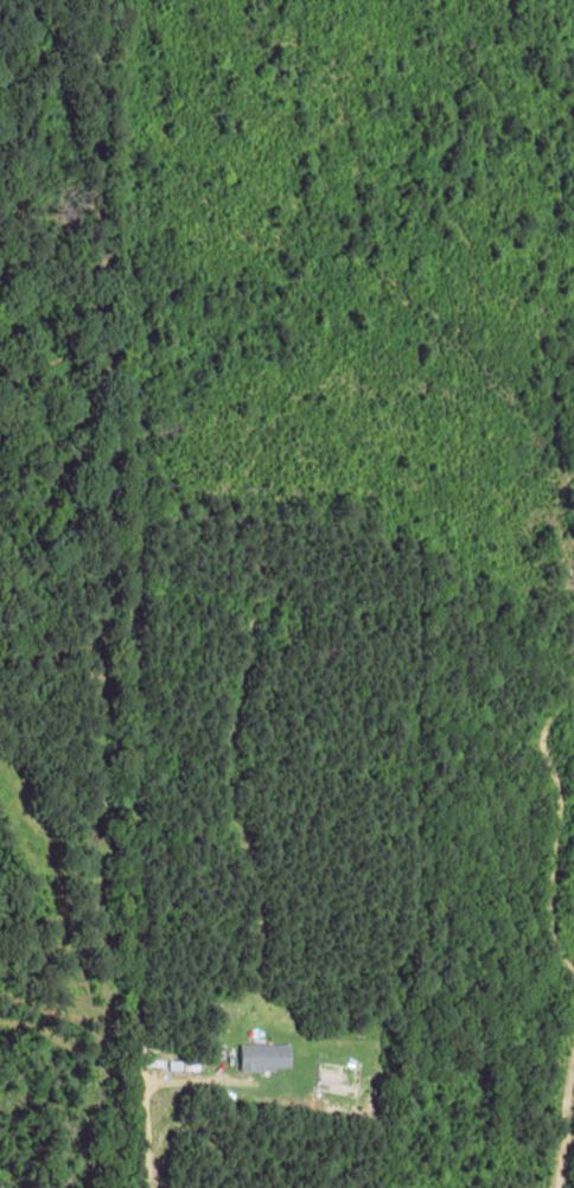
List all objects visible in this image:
building: (266, 1056)

